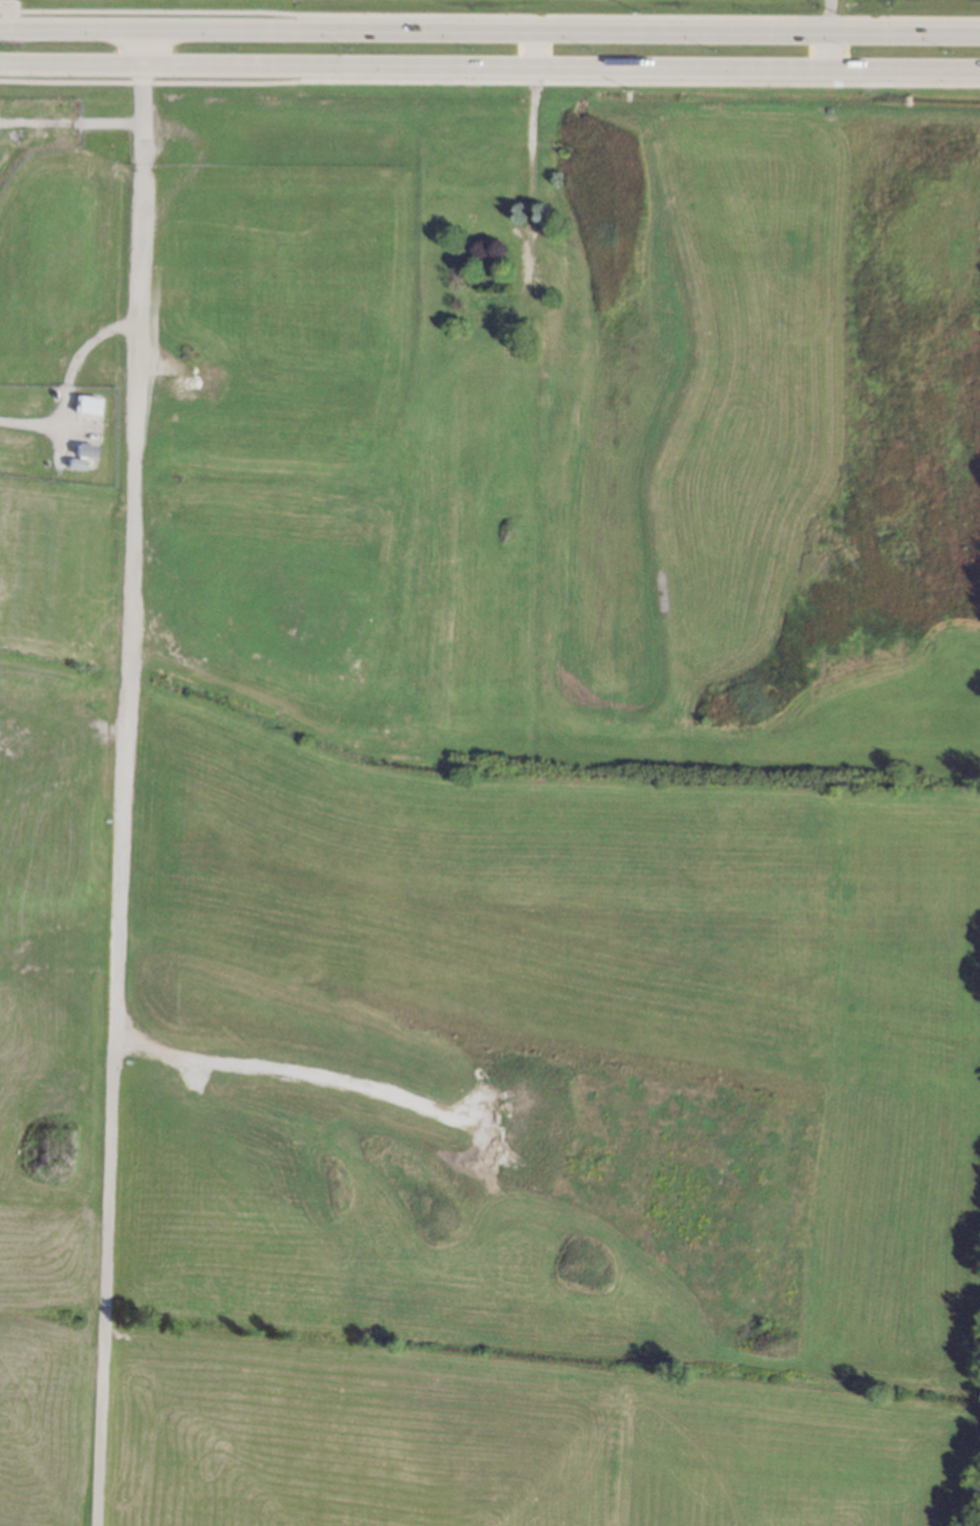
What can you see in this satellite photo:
airport: (508, 9)
road: (828, 16)
road: (490, 31)
road: (531, 50)
road: (824, 51)
road: (489, 68)
airport: (36, 131)
building: (87, 404)
building: (84, 449)
building: (75, 462)
road: (123, 778)

